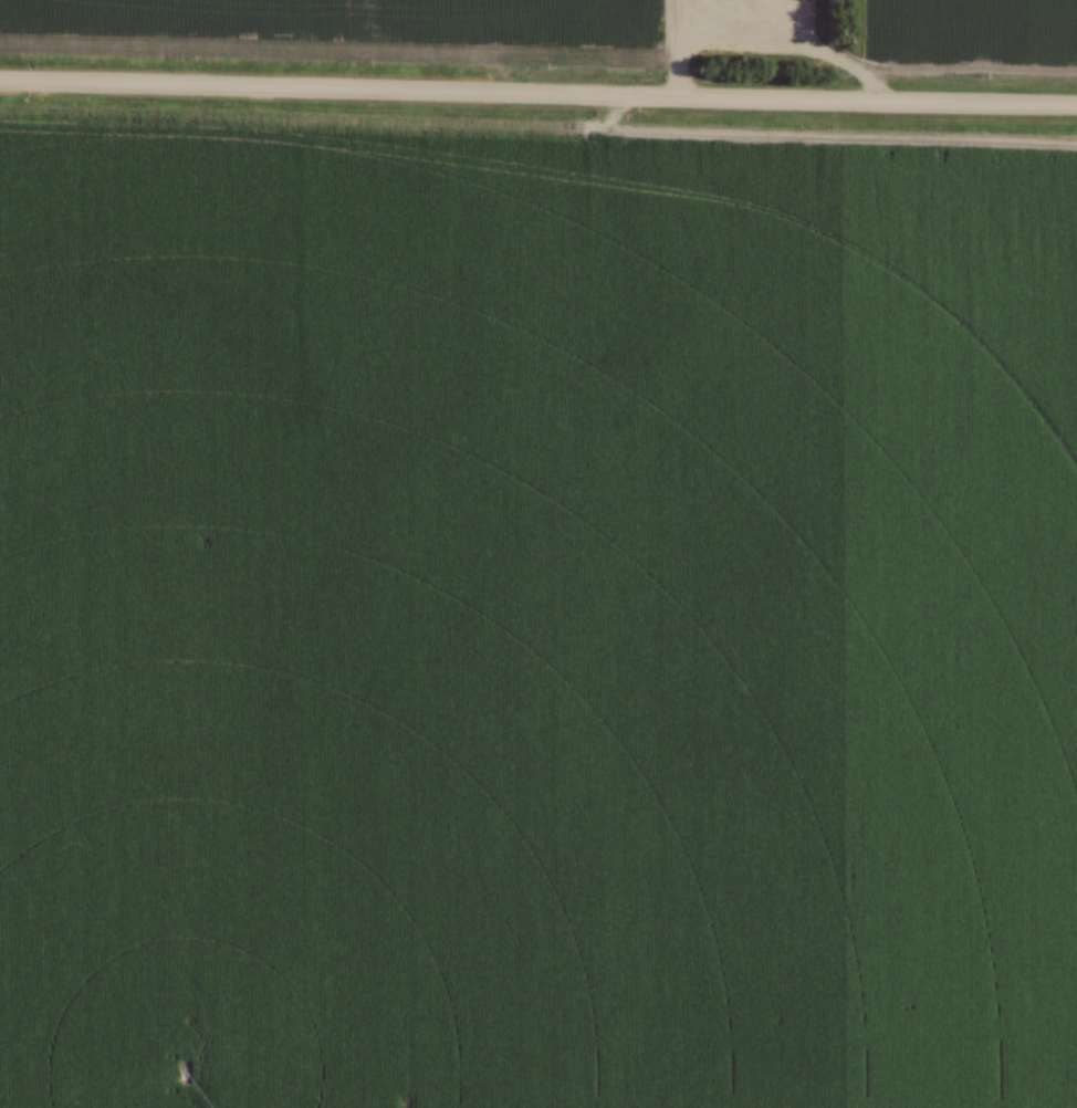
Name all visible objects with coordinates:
building: (621, 0)
crop: (261, 24)
crop: (971, 31)
building: (778, 45)
road: (679, 48)
road: (828, 51)
road: (420, 61)
road: (537, 95)
crop: (535, 613)

